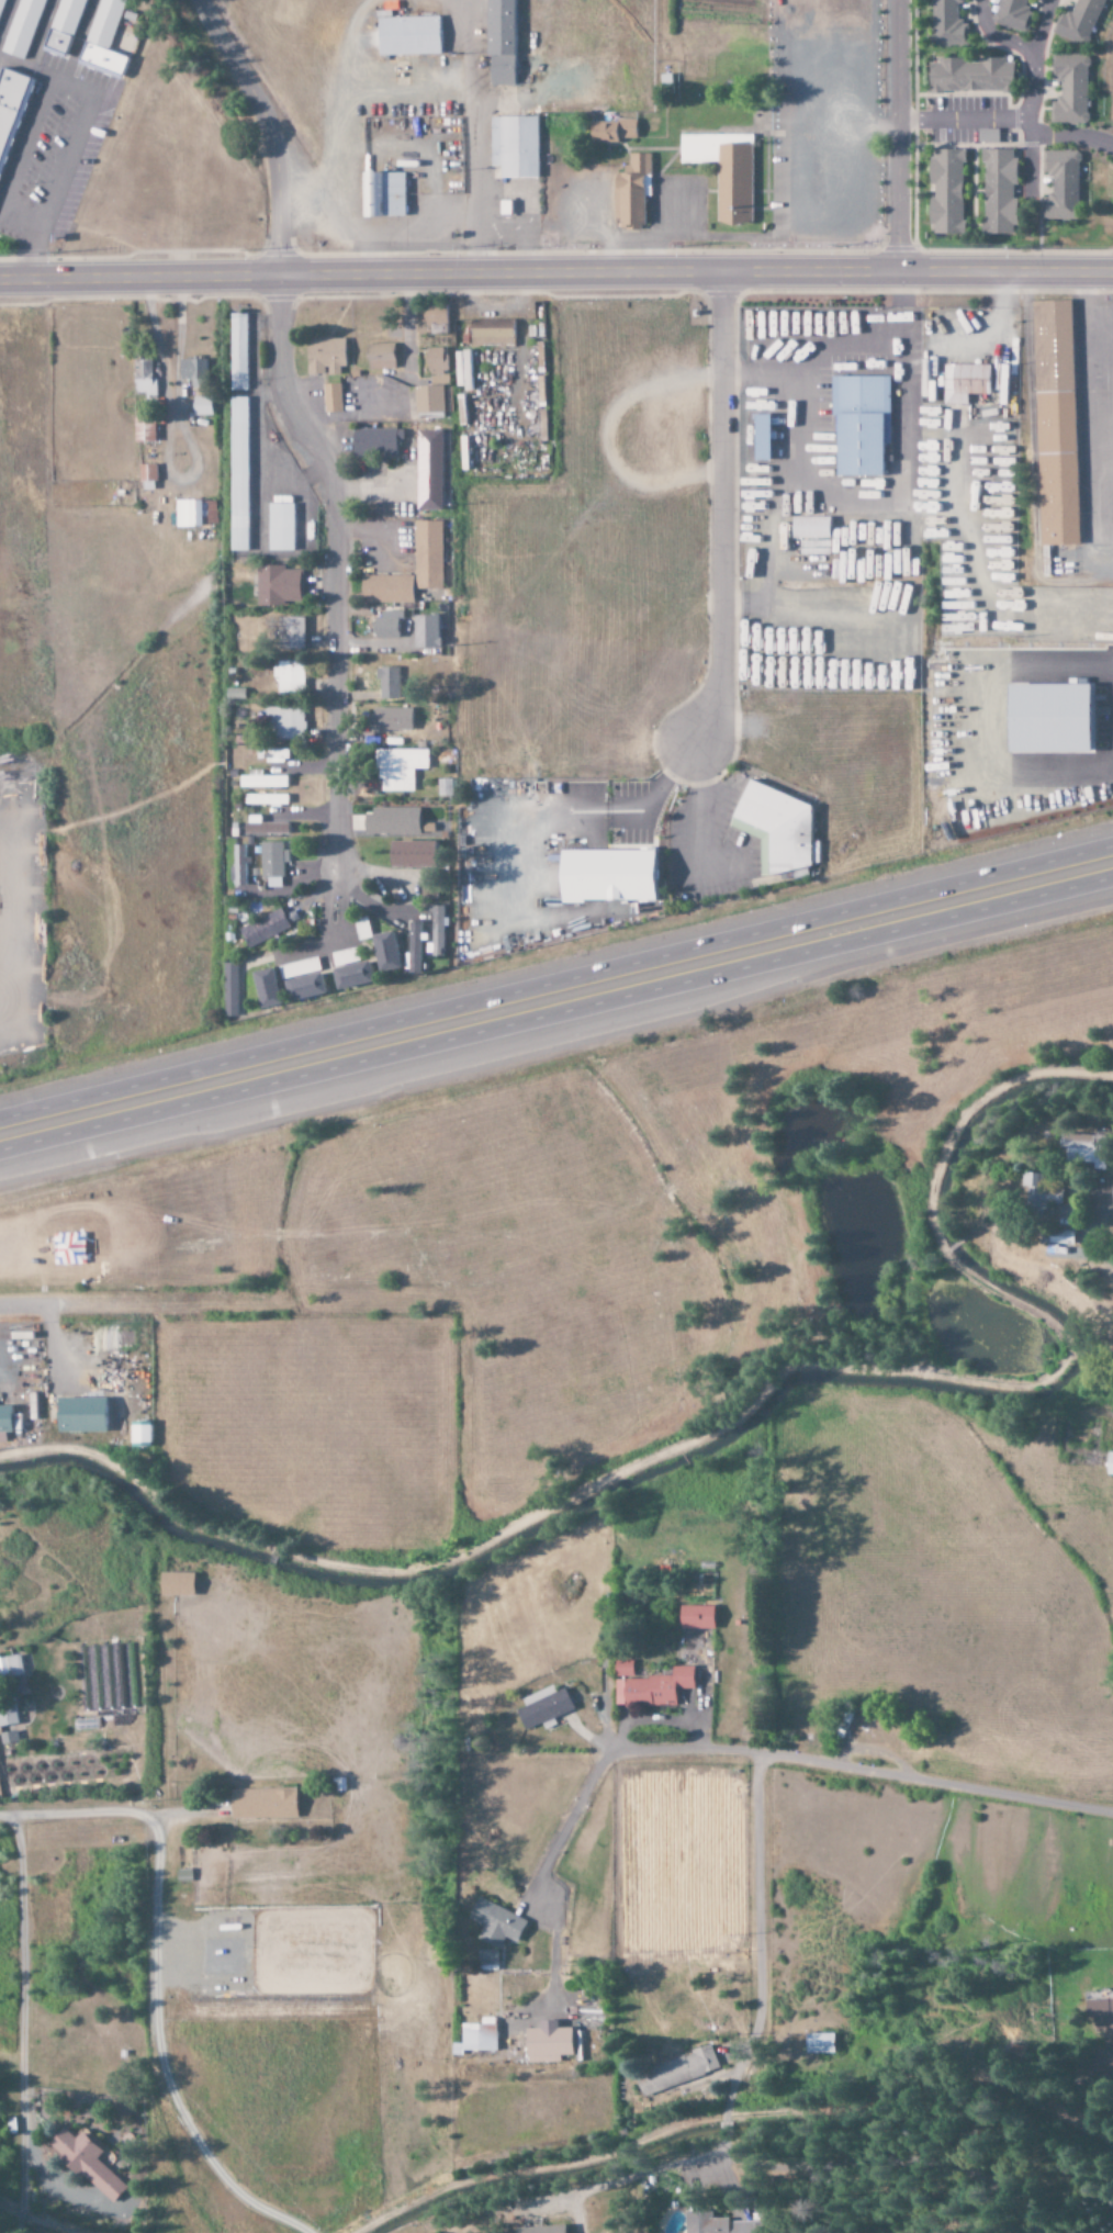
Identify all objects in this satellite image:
building: (1012, 14)
building: (1079, 21)
building: (946, 24)
building: (65, 25)
building: (23, 29)
building: (407, 36)
building: (103, 38)
building: (499, 43)
building: (969, 76)
building: (1069, 90)
building: (10, 108)
road: (268, 128)
building: (610, 132)
road: (900, 135)
road: (468, 143)
building: (514, 147)
building: (723, 172)
building: (1059, 186)
building: (945, 192)
building: (998, 192)
building: (631, 193)
building: (382, 195)
road: (555, 272)
building: (434, 318)
building: (491, 333)
building: (237, 351)
building: (324, 356)
building: (380, 356)
building: (192, 369)
building: (144, 379)
building: (965, 382)
building: (431, 383)
building: (330, 397)
building: (201, 406)
building: (1054, 422)
building: (859, 424)
building: (143, 428)
building: (761, 437)
building: (373, 441)
building: (428, 470)
building: (146, 472)
building: (237, 473)
building: (194, 513)
road: (724, 514)
building: (280, 527)
building: (811, 528)
building: (427, 554)
road: (329, 566)
building: (277, 585)
building: (385, 588)
building: (385, 626)
building: (425, 631)
building: (290, 632)
building: (289, 676)
building: (387, 683)
building: (390, 718)
building: (284, 722)
building: (268, 754)
building: (259, 781)
building: (443, 787)
building: (390, 821)
building: (263, 827)
building: (776, 829)
building: (411, 854)
building: (272, 859)
building: (237, 865)
building: (606, 875)
building: (263, 929)
building: (413, 947)
building: (384, 952)
building: (352, 975)
building: (303, 987)
building: (265, 988)
building: (228, 990)
road: (556, 995)
building: (1083, 1149)
building: (1041, 1192)
road: (20, 1308)
building: (89, 1415)
building: (8, 1422)
building: (146, 1434)
building: (1109, 1465)
building: (176, 1584)
building: (696, 1617)
building: (10, 1665)
building: (622, 1669)
building: (651, 1688)
building: (542, 1706)
building: (8, 1714)
building: (8, 1736)
road: (936, 1783)
building: (261, 1804)
road: (577, 1808)
road: (68, 1813)
building: (495, 1923)
building: (486, 1956)
road: (760, 1965)
road: (20, 2029)
building: (1102, 2029)
building: (477, 2035)
building: (547, 2042)
building: (819, 2042)
road: (155, 2052)
building: (676, 2071)
building: (86, 2163)
road: (743, 2175)
building: (543, 2230)

